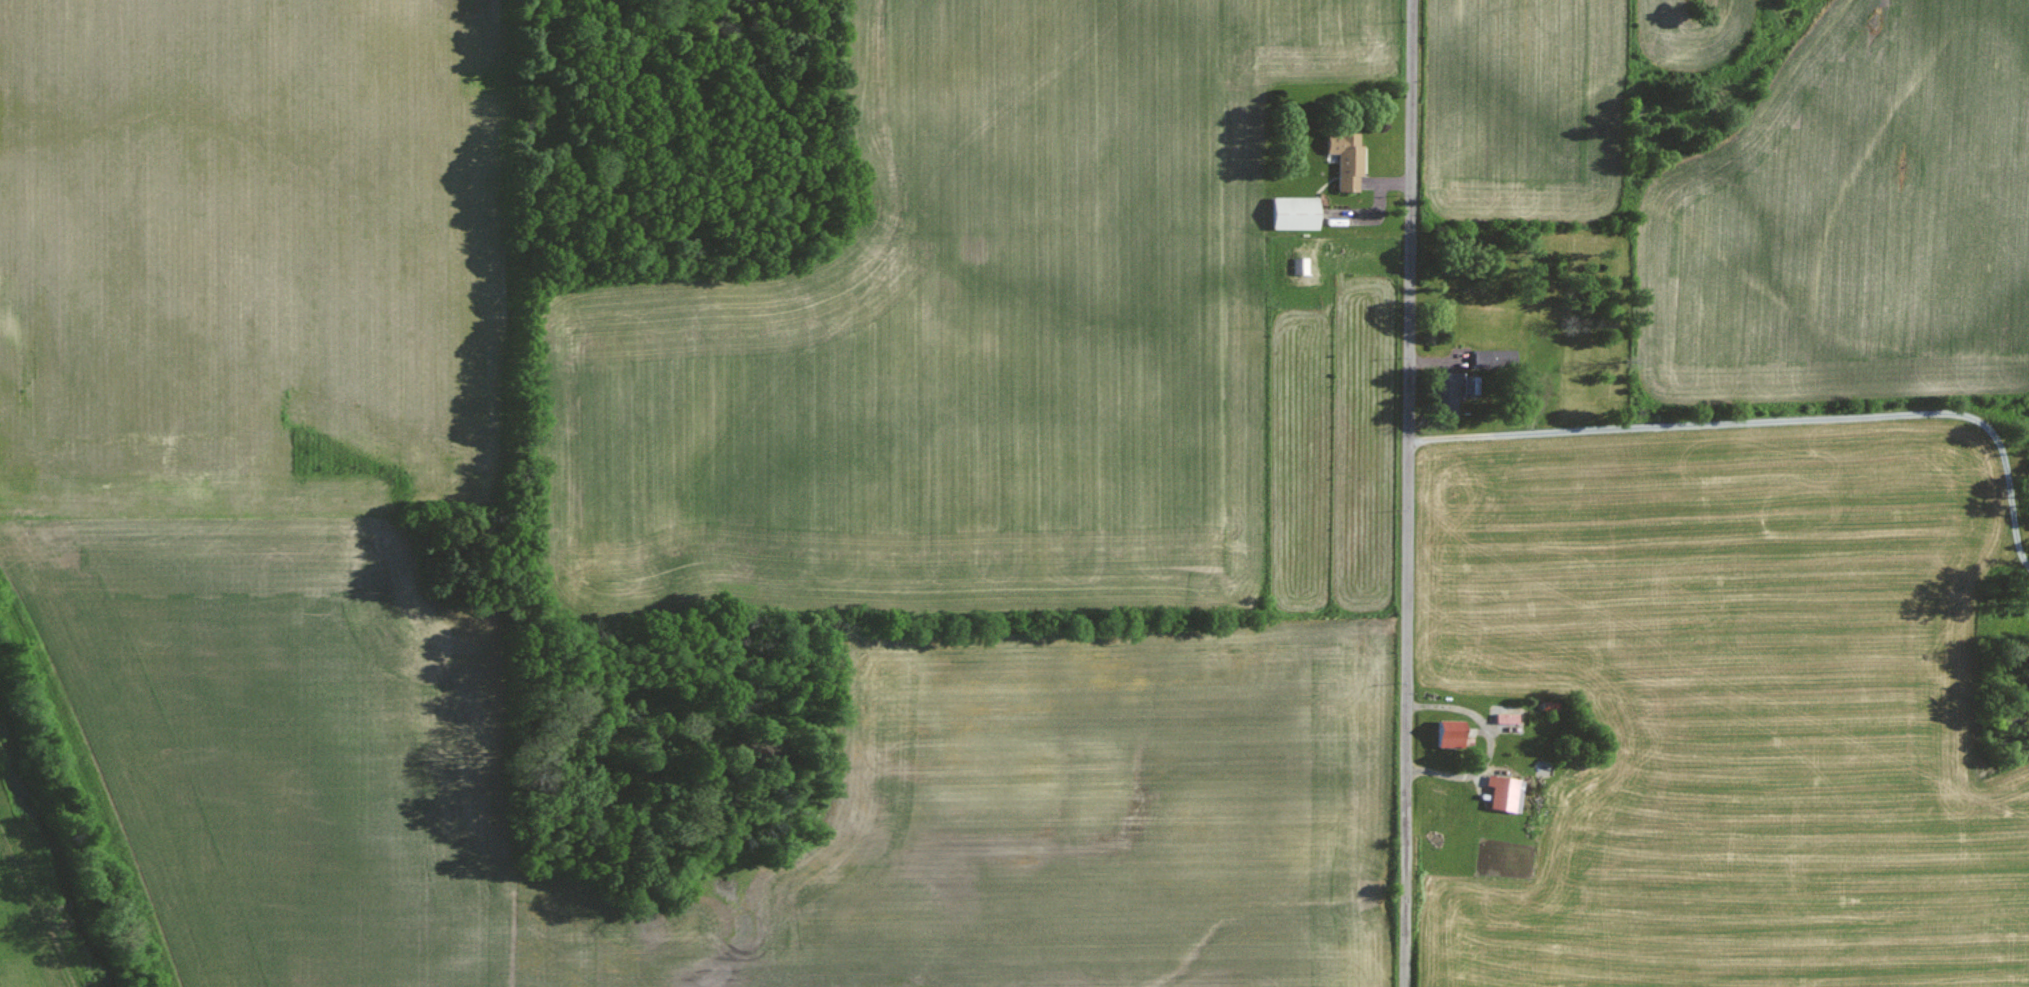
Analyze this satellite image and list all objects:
building: (1343, 158)
building: (1291, 213)
building: (1443, 392)
road: (1776, 422)
road: (1407, 493)
building: (1442, 734)
building: (1500, 794)

